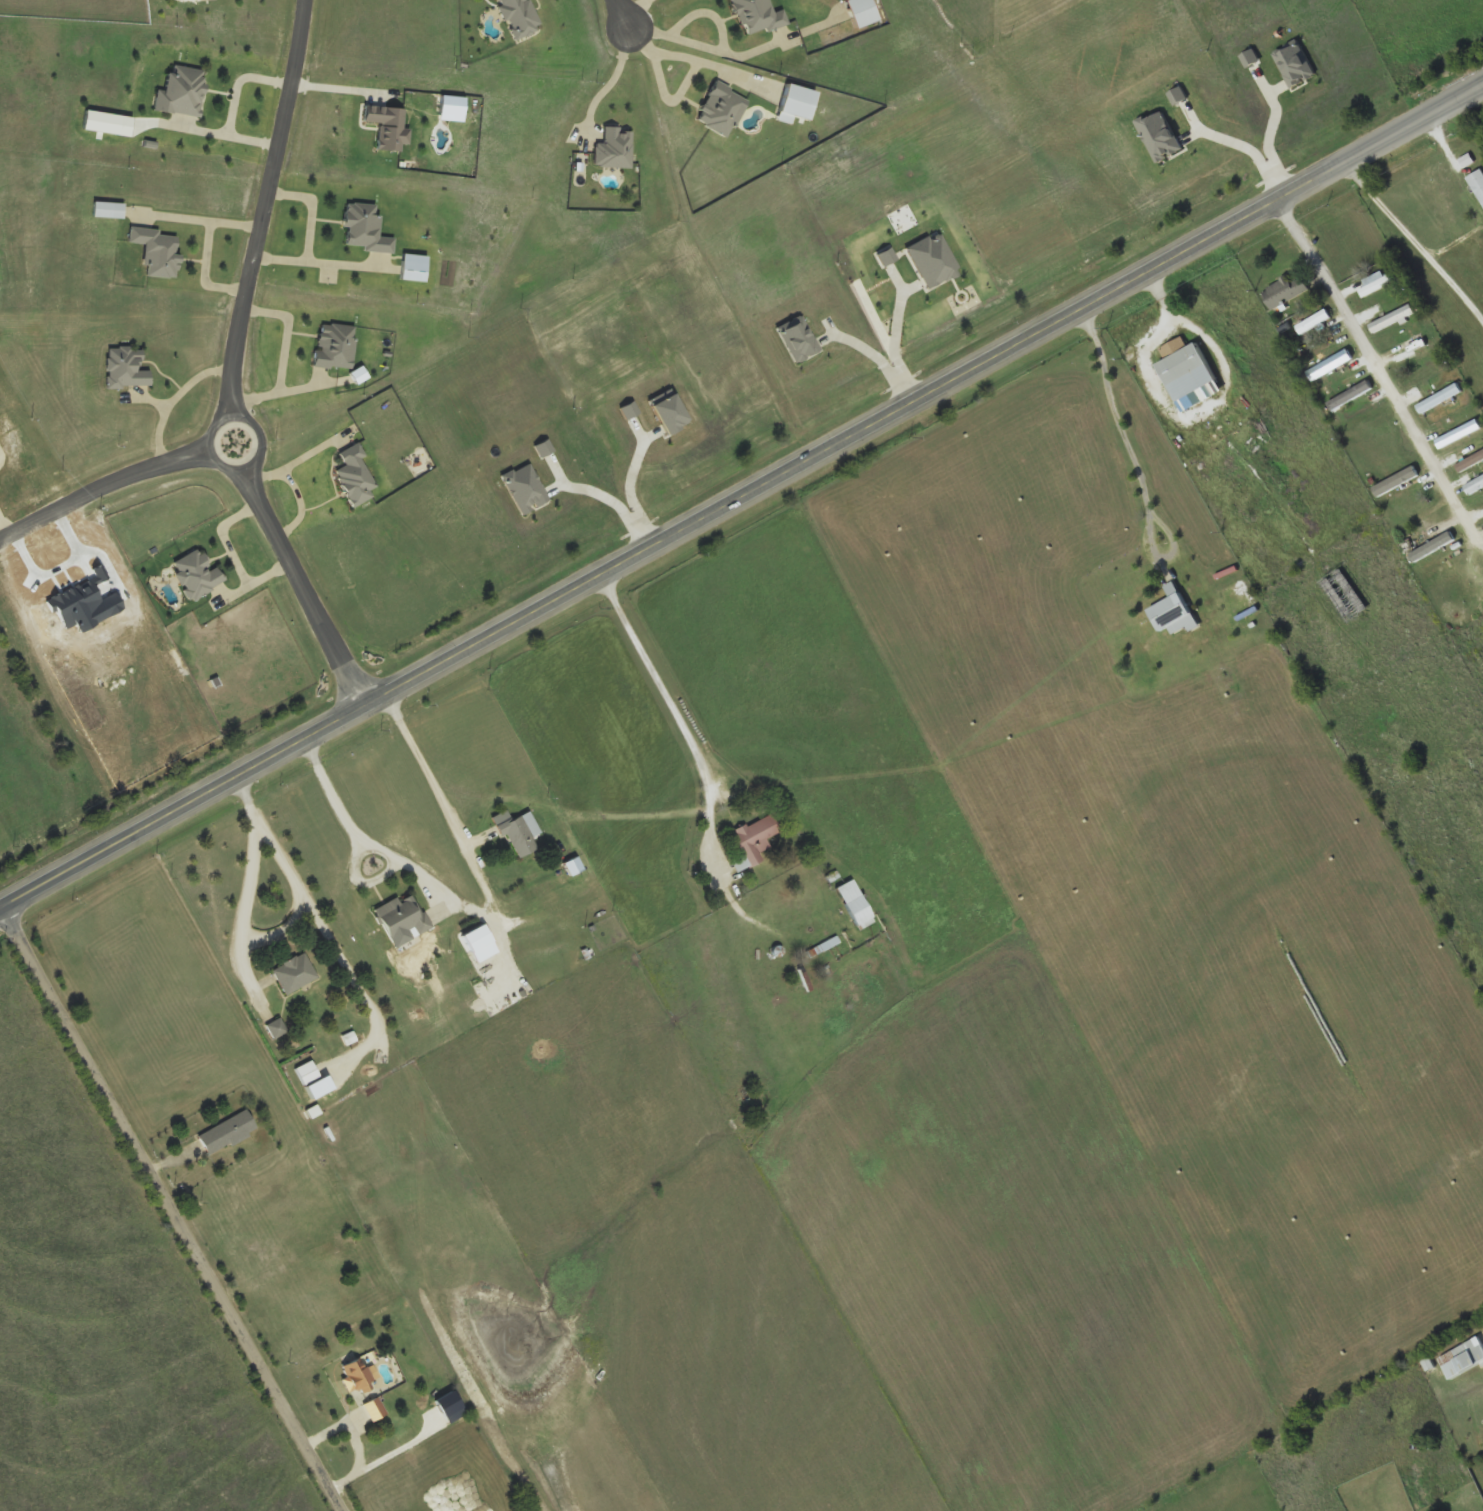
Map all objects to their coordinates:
road: (620, 9)
road: (694, 58)
road: (239, 84)
road: (340, 90)
road: (218, 135)
building: (1477, 183)
road: (264, 209)
building: (364, 229)
road: (1416, 245)
building: (1377, 286)
building: (1284, 291)
building: (1392, 320)
building: (1312, 322)
building: (334, 347)
building: (1412, 358)
road: (1373, 362)
building: (1327, 367)
building: (1185, 369)
building: (1349, 396)
building: (1439, 399)
building: (1459, 433)
road: (262, 447)
building: (1477, 457)
building: (1396, 482)
road: (101, 485)
building: (1475, 486)
road: (741, 497)
building: (1444, 540)
road: (305, 586)
building: (1173, 613)
building: (519, 832)
building: (752, 841)
building: (854, 905)
building: (401, 916)
building: (476, 938)
building: (294, 973)
building: (276, 1028)
building: (306, 1073)
building: (226, 1133)
road: (171, 1208)
building: (1463, 1358)
building: (358, 1376)
building: (373, 1409)

